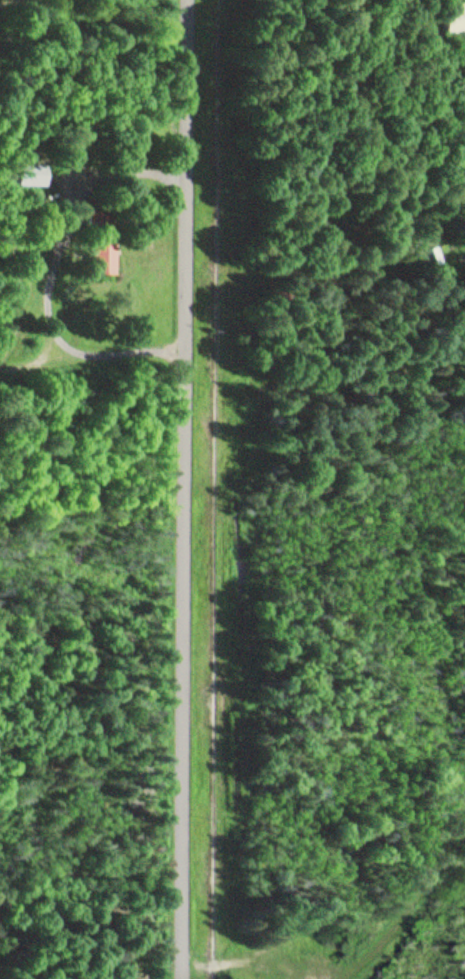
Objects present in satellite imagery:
building: (453, 17)
building: (99, 243)
road: (98, 358)
road: (193, 489)

